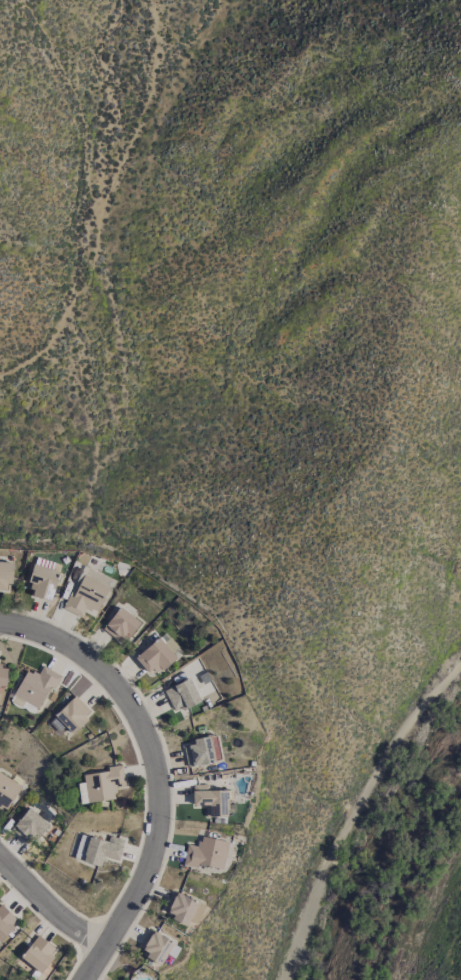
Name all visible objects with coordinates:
building: (5, 576)
building: (43, 583)
building: (88, 593)
building: (121, 624)
building: (159, 654)
road: (455, 674)
building: (3, 676)
building: (36, 686)
building: (182, 697)
building: (69, 716)
building: (201, 751)
road: (160, 767)
building: (101, 785)
building: (7, 791)
building: (211, 800)
road: (352, 822)
building: (30, 826)
building: (98, 849)
building: (206, 853)
river: (415, 886)
road: (53, 901)
building: (181, 908)
building: (5, 922)
building: (156, 947)
building: (39, 953)
building: (35, 971)

